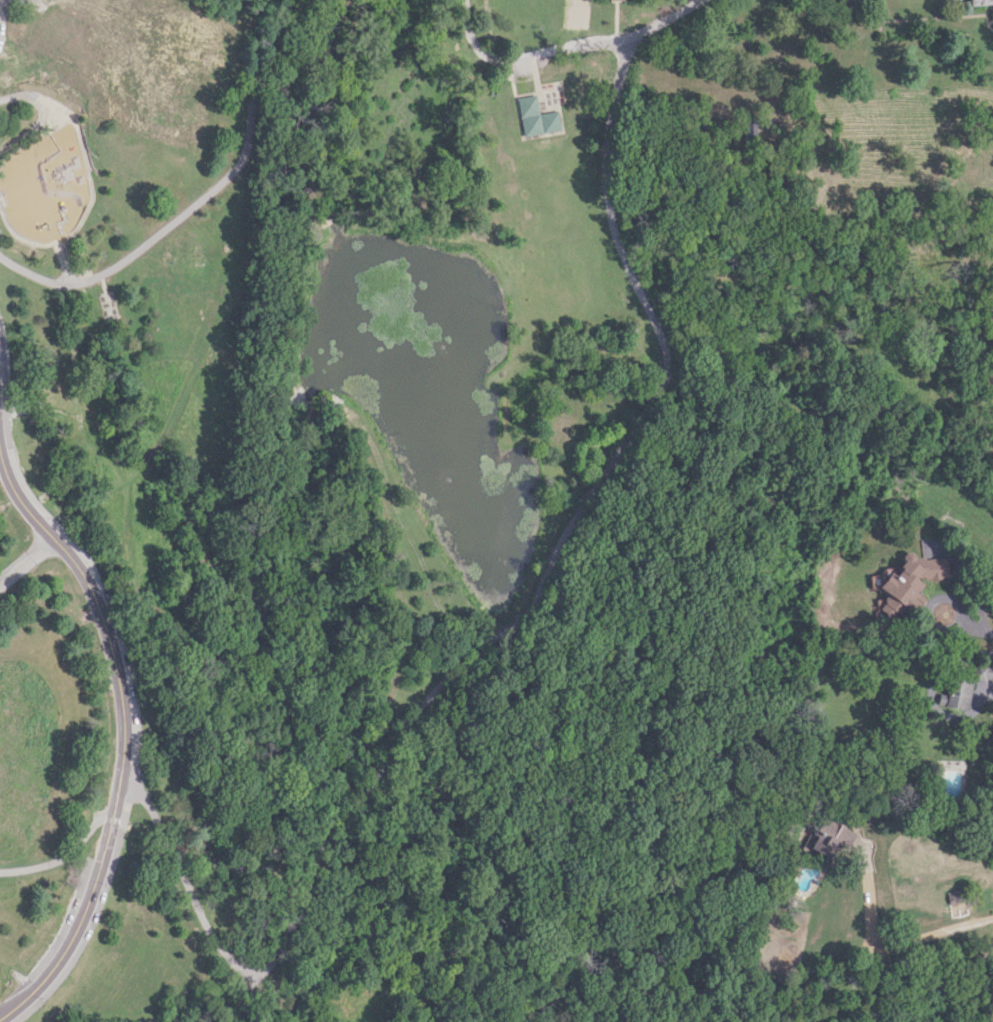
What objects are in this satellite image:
road: (281, 1)
building: (979, 2)
park: (576, 14)
road: (665, 19)
road: (527, 55)
building: (536, 117)
road: (193, 200)
park: (450, 466)
road: (25, 558)
building: (911, 578)
road: (960, 610)
road: (483, 645)
building: (983, 681)
building: (957, 692)
road: (122, 738)
road: (111, 818)
building: (830, 835)
road: (61, 859)
road: (895, 940)

